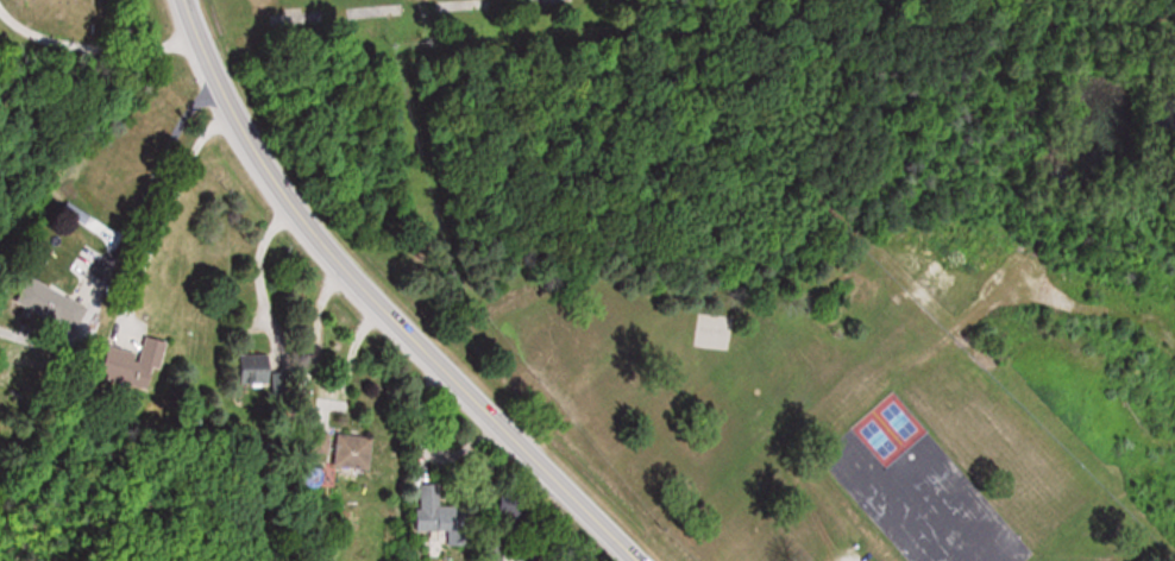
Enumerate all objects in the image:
park: (88, 29)
road: (92, 49)
road: (165, 207)
road: (376, 301)
building: (139, 364)
building: (266, 378)
building: (356, 450)
building: (439, 510)

